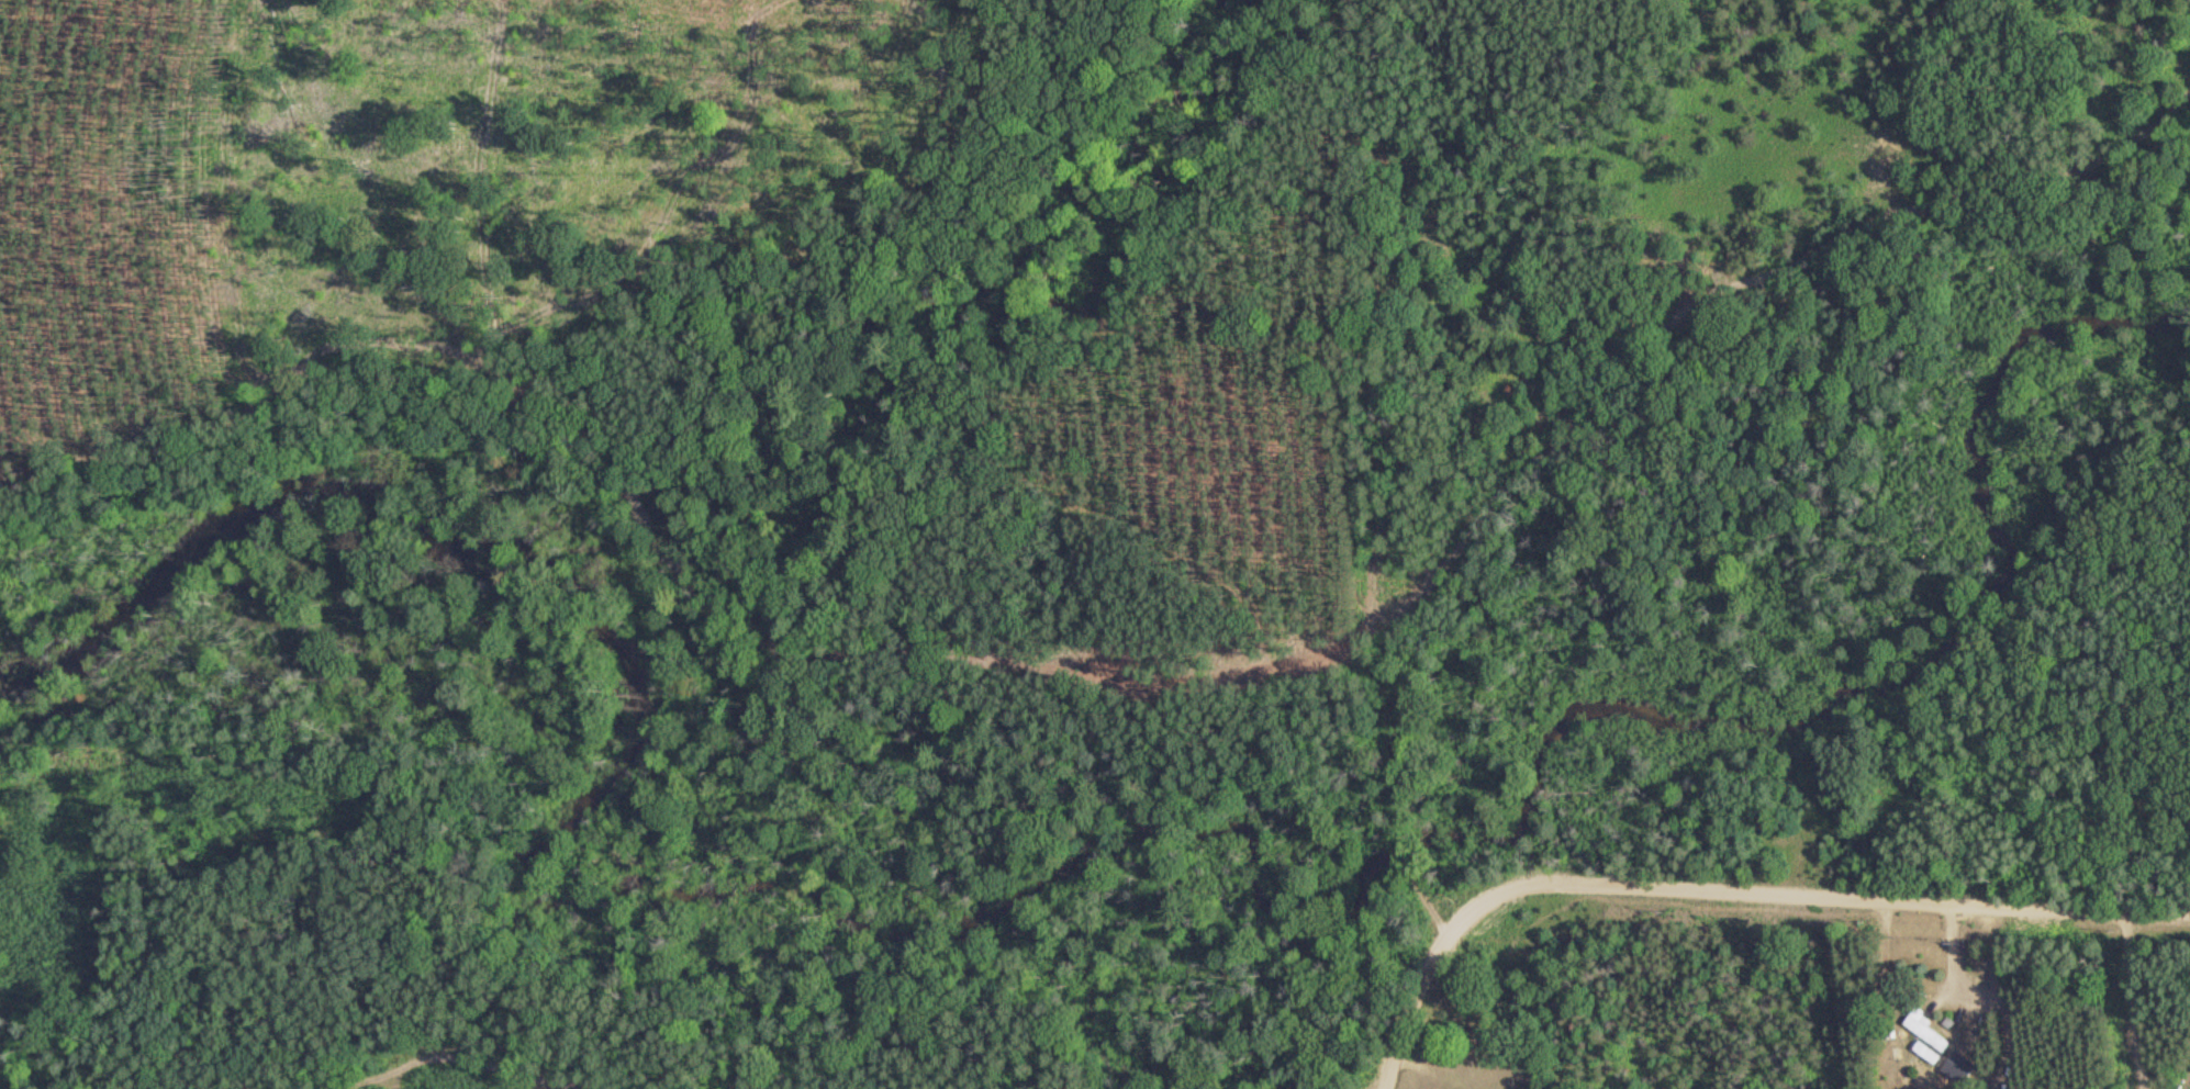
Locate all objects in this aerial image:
road: (1855, 896)
road: (1427, 966)

